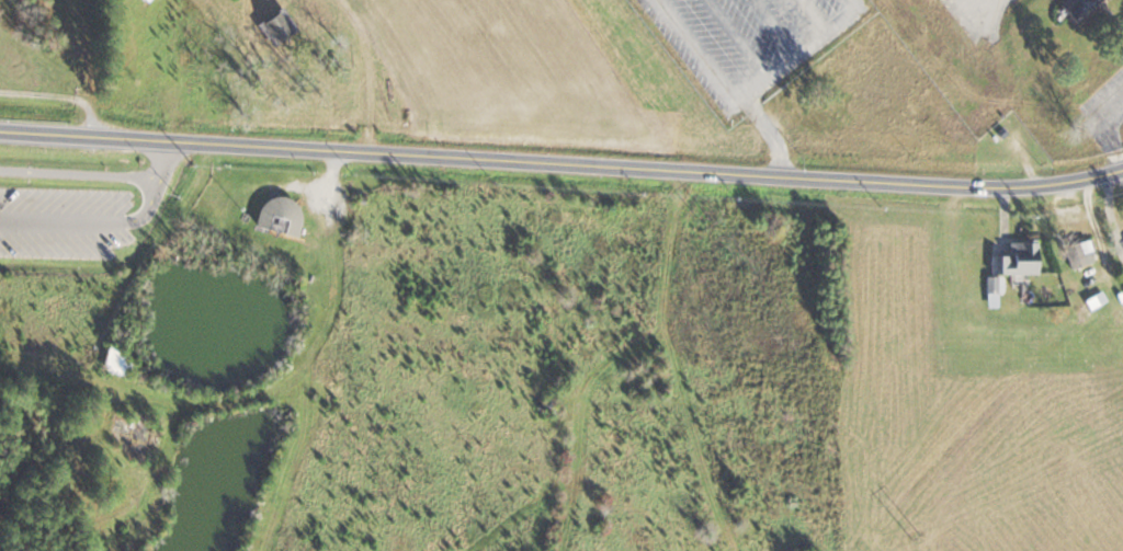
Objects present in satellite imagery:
building: (146, 0)
building: (1079, 7)
road: (744, 99)
road: (1108, 129)
road: (774, 134)
road: (561, 161)
road: (79, 175)
road: (152, 198)
building: (282, 216)
road: (50, 218)
parking lot: (56, 220)
power tower: (710, 225)
building: (1078, 255)
building: (1019, 260)
building: (117, 357)
power tower: (917, 536)

